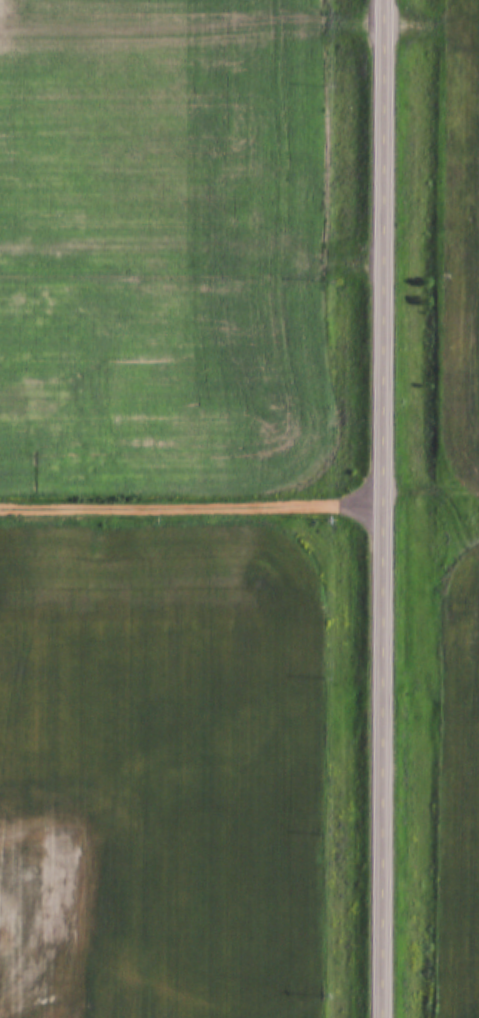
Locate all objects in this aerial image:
road: (191, 261)
road: (192, 509)
road: (384, 509)

